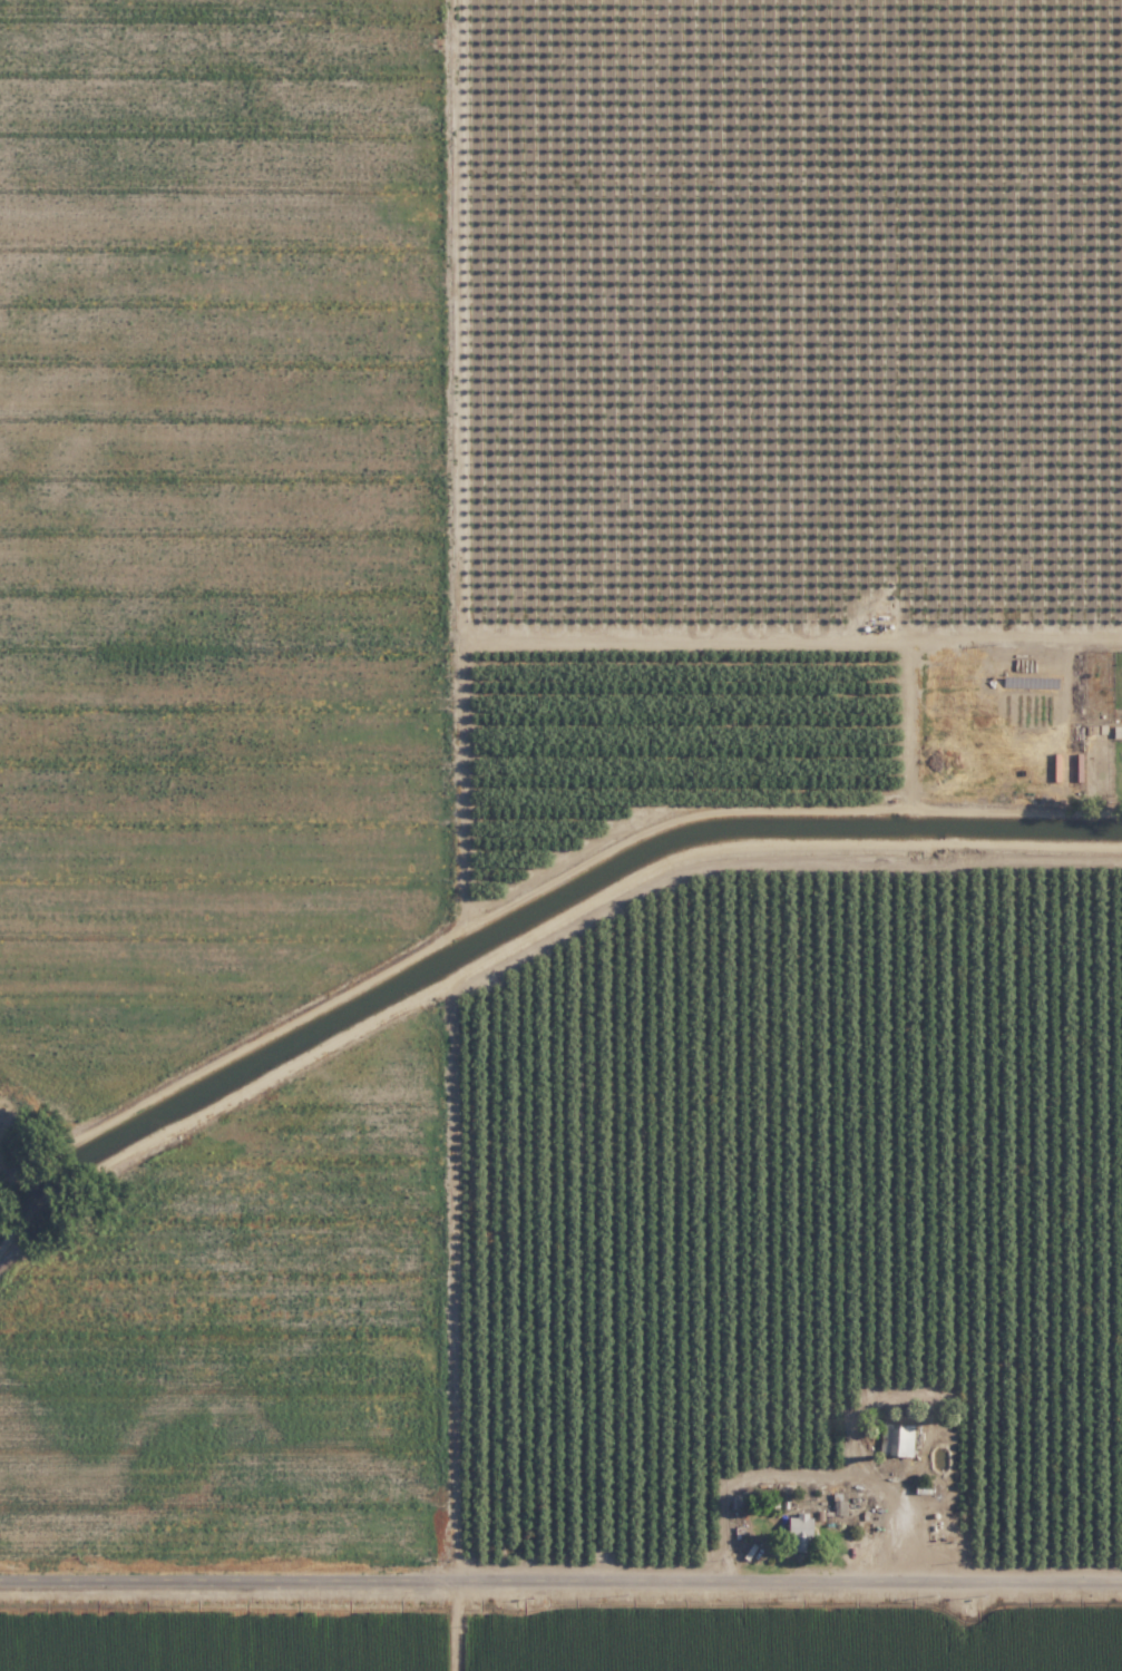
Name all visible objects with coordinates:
crop: (560, 836)
road: (526, 945)
road: (441, 1288)
building: (898, 1438)
building: (802, 1531)
road: (560, 1583)

